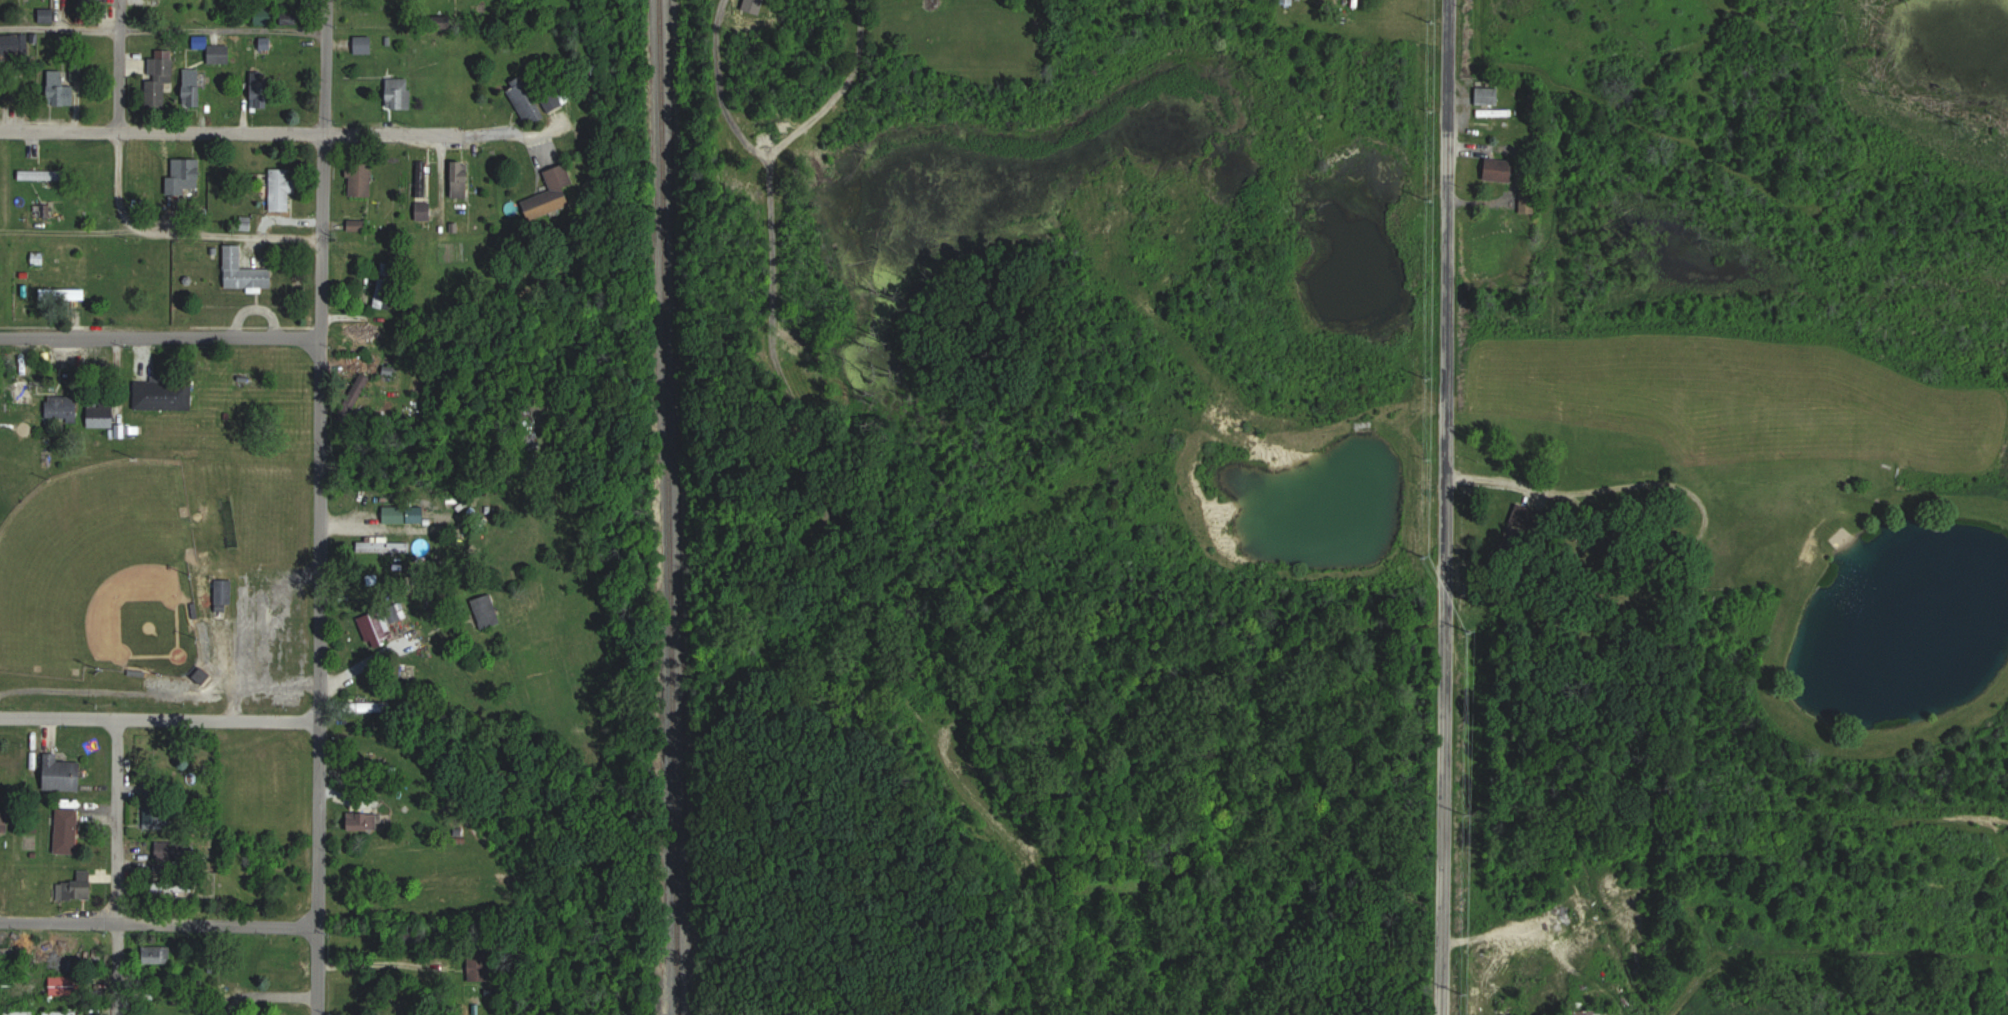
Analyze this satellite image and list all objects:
building: (91, 0)
building: (266, 15)
road: (162, 26)
building: (266, 44)
building: (365, 44)
building: (222, 53)
road: (120, 64)
road: (325, 65)
building: (193, 83)
building: (35, 84)
building: (62, 85)
building: (261, 88)
building: (401, 93)
building: (1488, 96)
building: (527, 101)
building: (554, 102)
road: (230, 129)
road: (513, 129)
building: (1503, 170)
building: (35, 173)
building: (187, 177)
building: (361, 179)
road: (117, 180)
building: (461, 186)
building: (283, 188)
building: (1530, 202)
building: (549, 204)
building: (424, 211)
building: (358, 225)
road: (162, 233)
building: (38, 258)
building: (246, 272)
building: (64, 294)
building: (382, 296)
road: (160, 337)
building: (20, 392)
building: (162, 393)
building: (63, 409)
building: (102, 414)
road: (1611, 488)
railway: (672, 507)
road: (1443, 507)
building: (406, 514)
building: (384, 545)
road: (320, 572)
building: (224, 595)
building: (486, 611)
building: (376, 627)
road: (253, 630)
road: (160, 692)
building: (369, 706)
road: (160, 720)
building: (64, 773)
building: (364, 820)
building: (3, 821)
building: (68, 830)
road: (115, 867)
building: (79, 886)
building: (166, 887)
road: (160, 923)
building: (281, 953)
building: (158, 954)
road: (382, 961)
building: (479, 967)
road: (273, 994)
building: (361, 995)
building: (1602, 1012)
building: (293, 1013)

